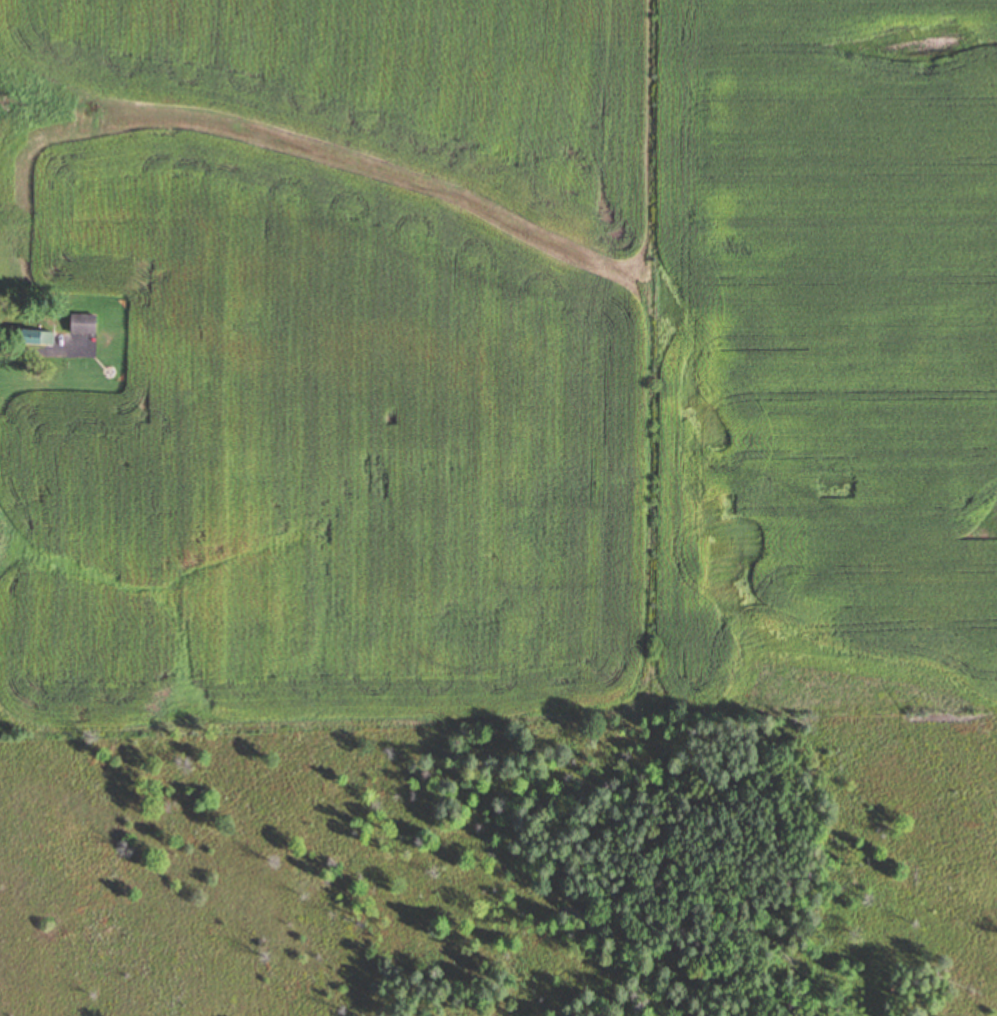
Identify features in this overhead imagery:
building: (86, 324)

